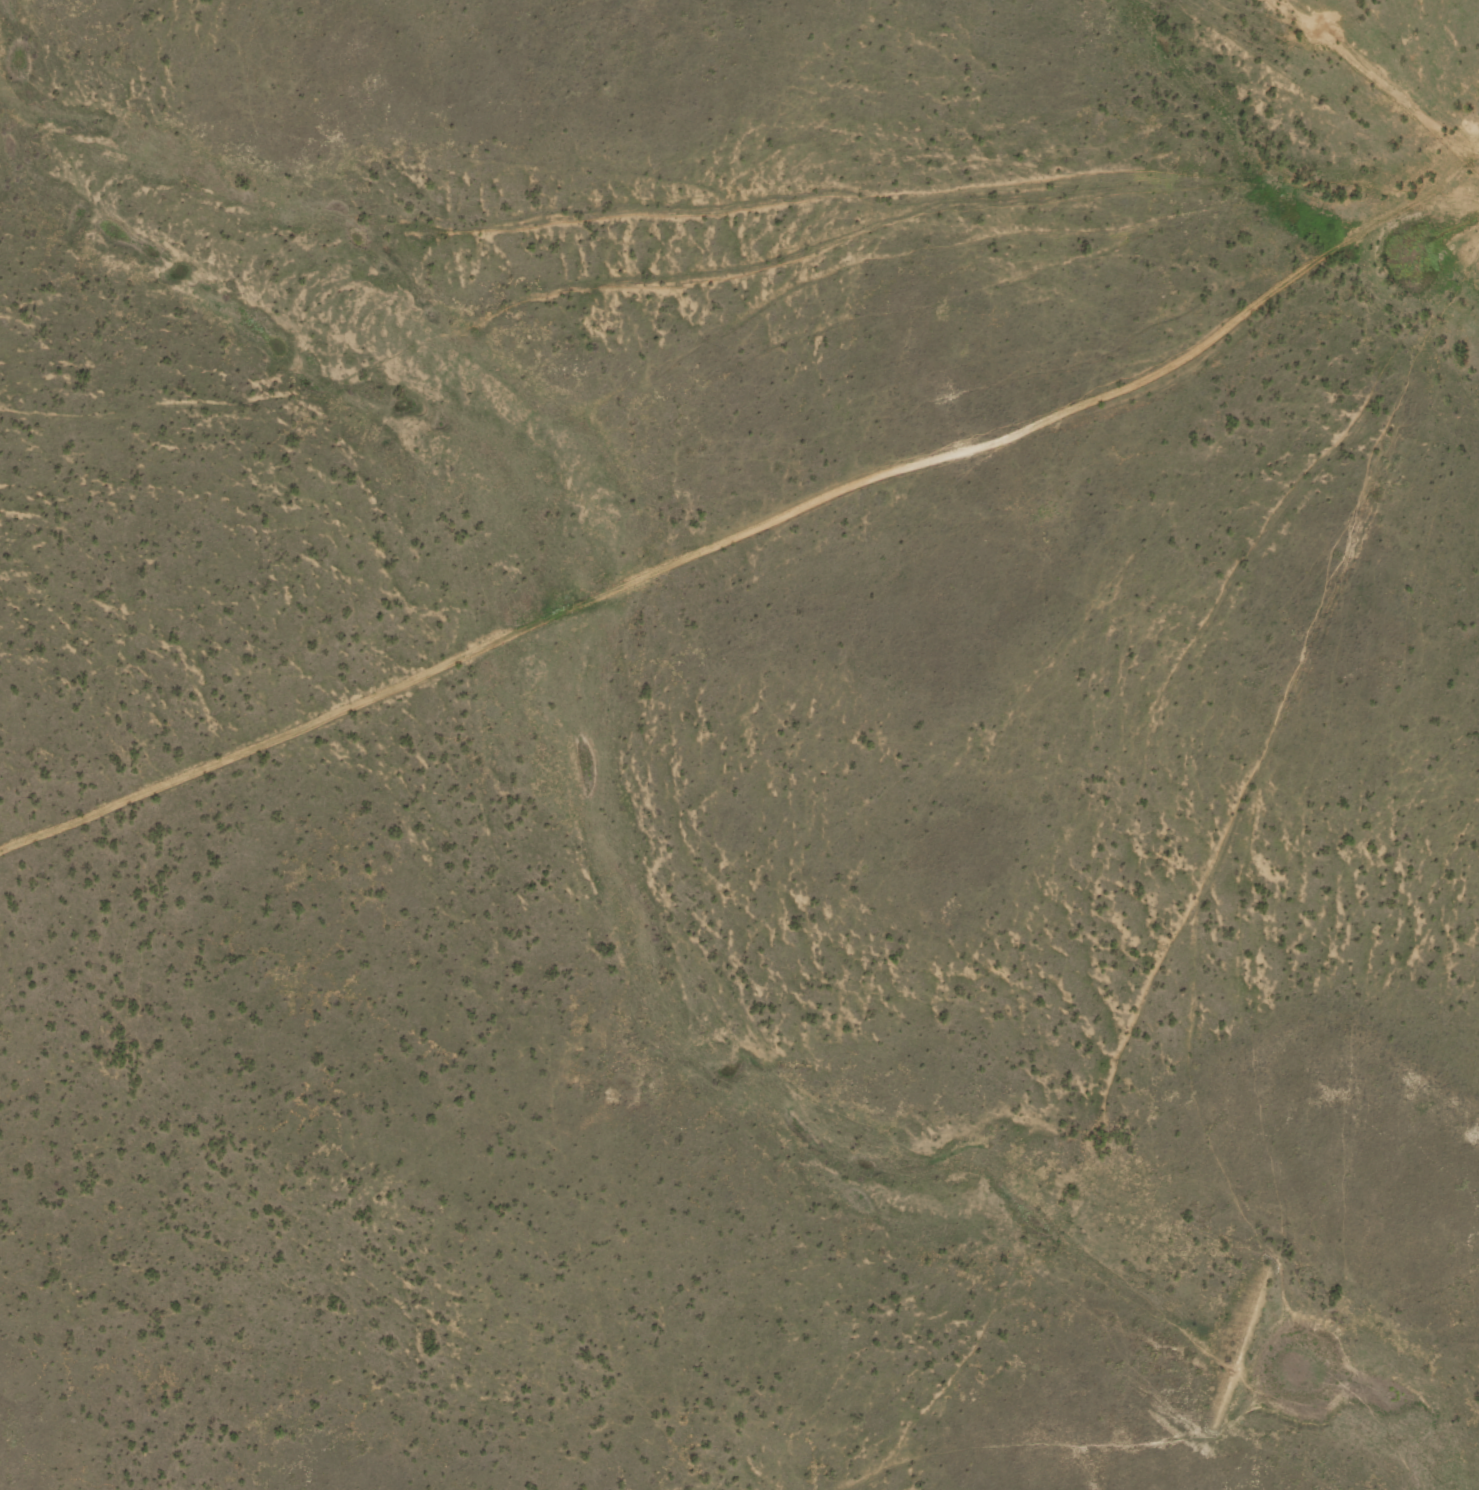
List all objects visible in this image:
road: (1428, 74)
road: (755, 527)

